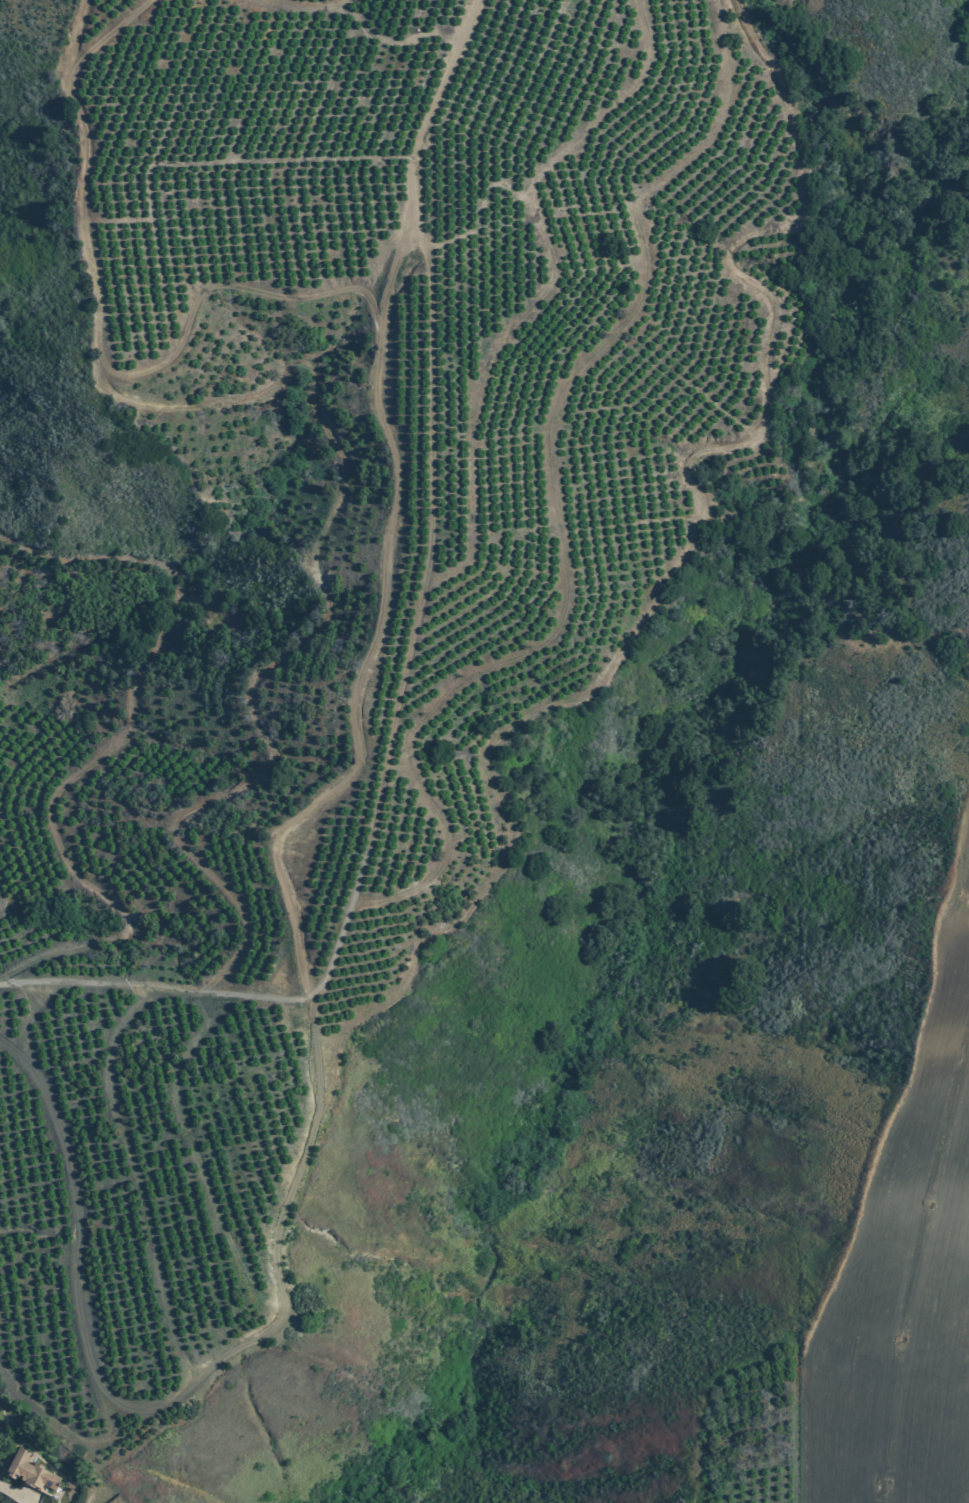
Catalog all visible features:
road: (960, 851)
road: (917, 1267)
crop: (902, 1274)
road: (177, 1396)
building: (29, 1471)
road: (15, 1493)

